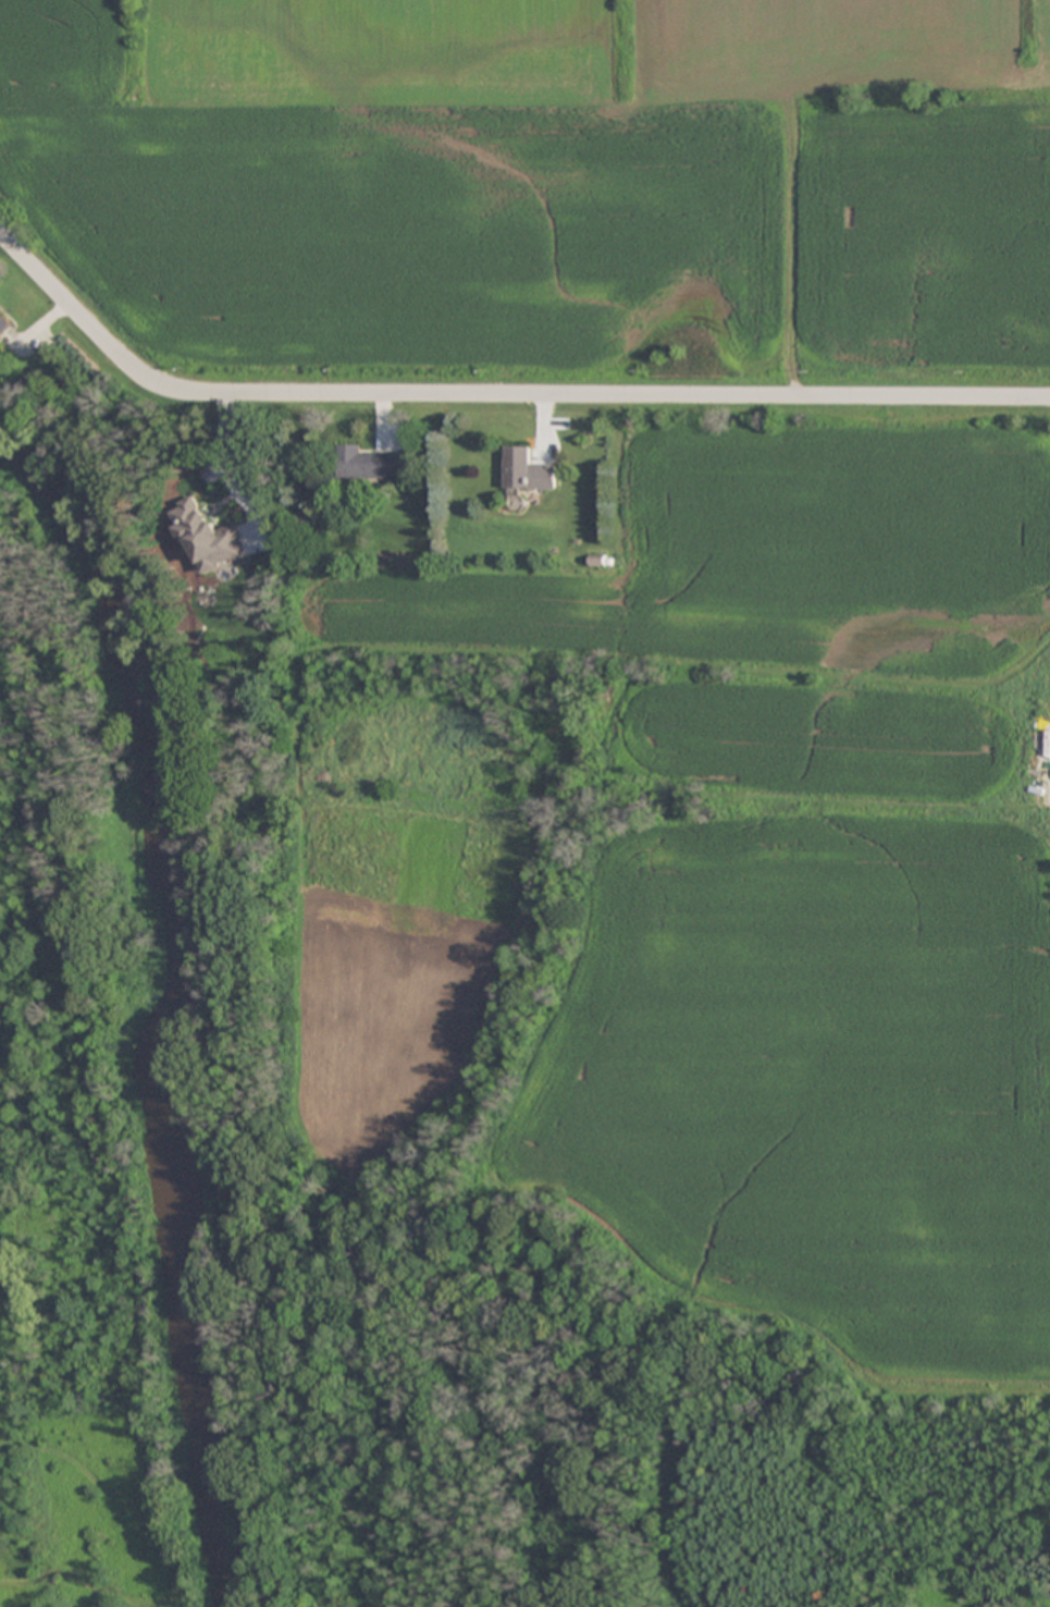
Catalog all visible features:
crop: (596, 289)
building: (3, 324)
road: (494, 394)
building: (373, 465)
building: (528, 470)
building: (209, 539)
building: (597, 563)
river: (152, 1017)

